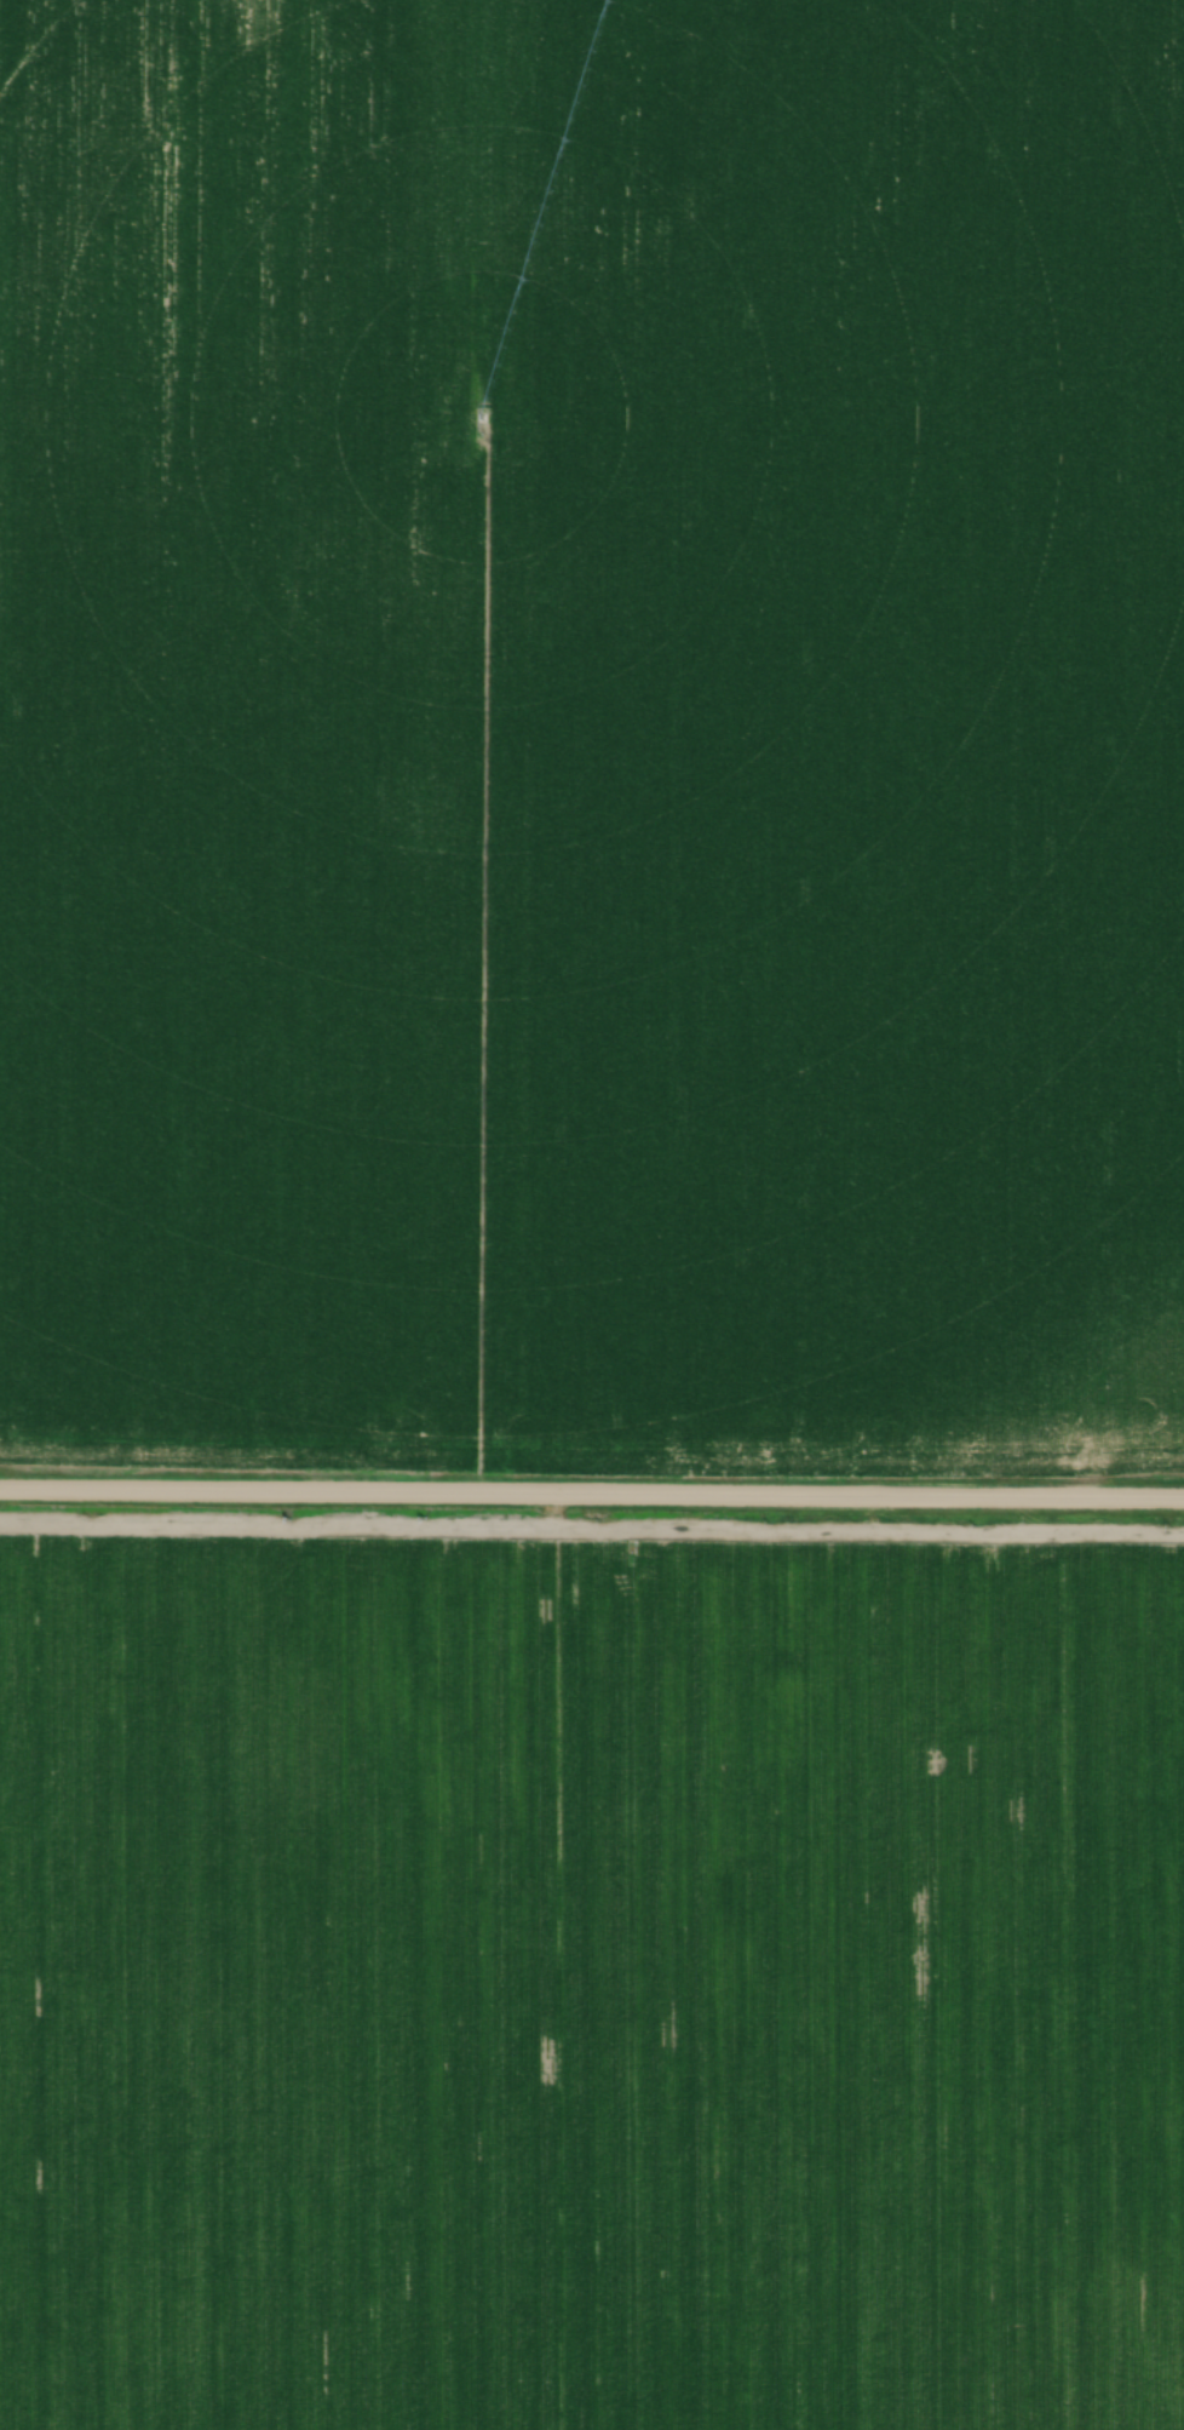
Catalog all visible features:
road: (592, 1495)

